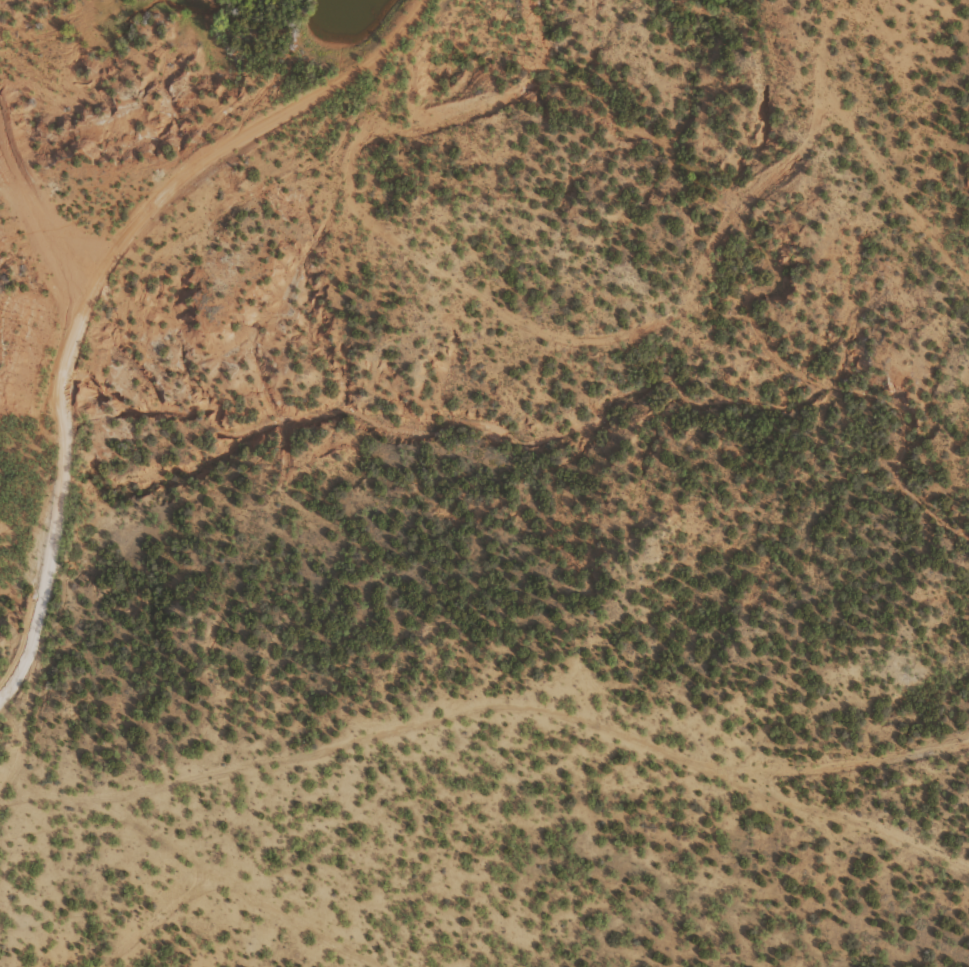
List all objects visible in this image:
road: (94, 276)

